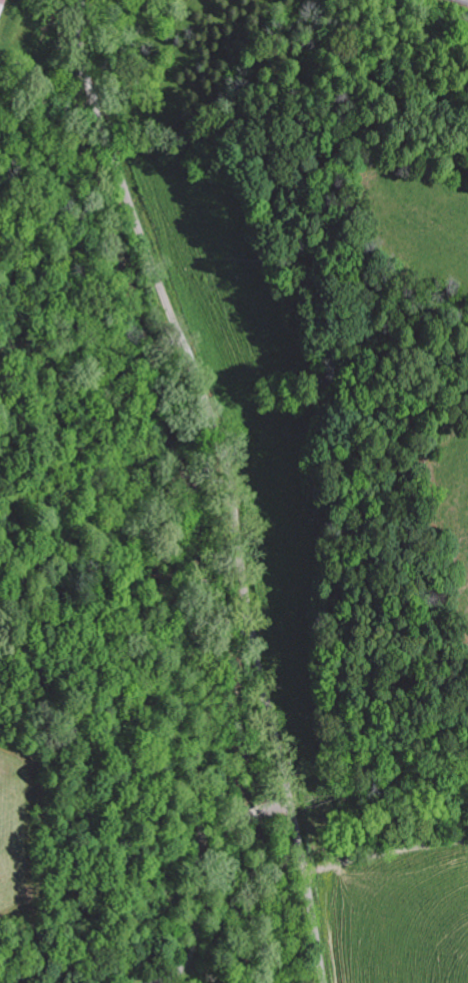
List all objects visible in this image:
road: (230, 482)
road: (388, 854)
road: (202, 871)

